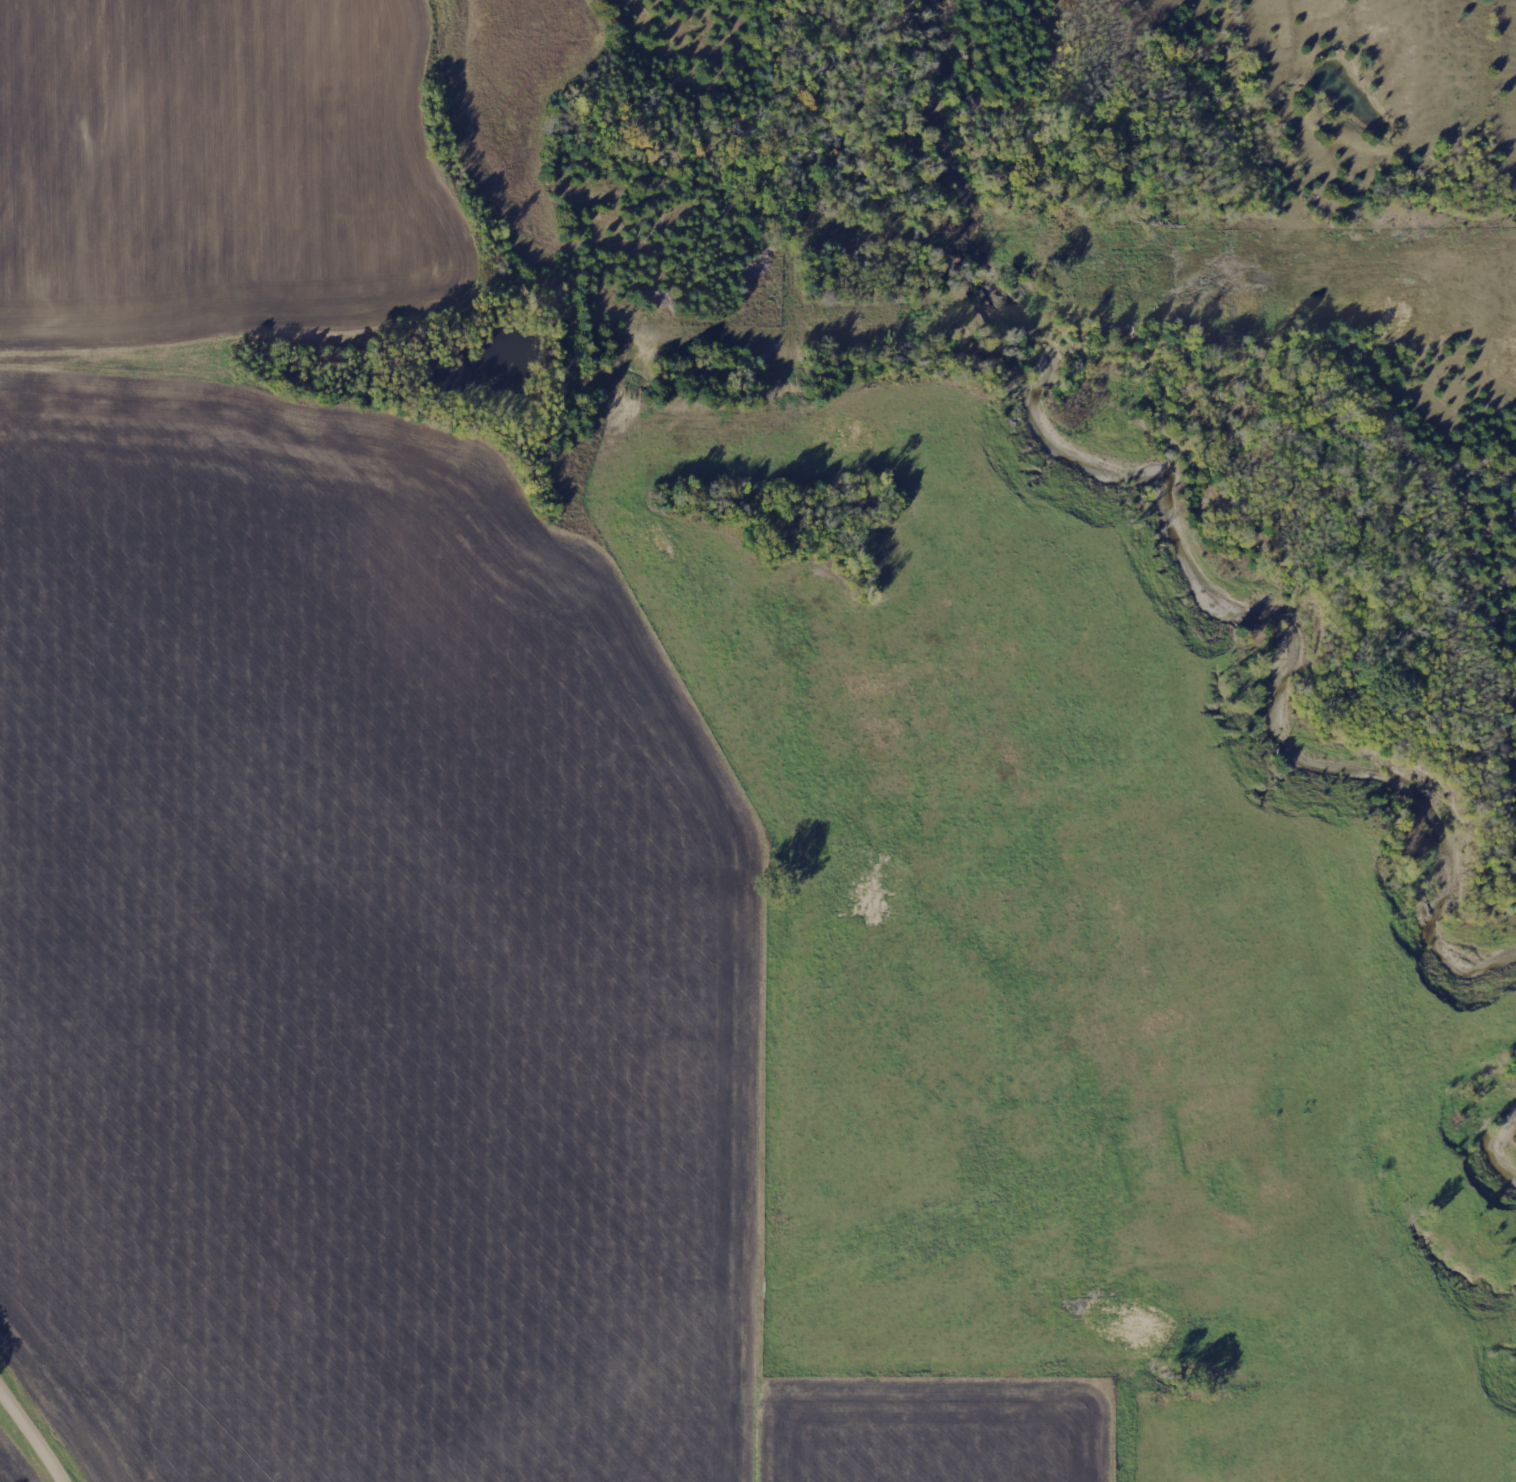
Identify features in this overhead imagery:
road: (33, 1435)

